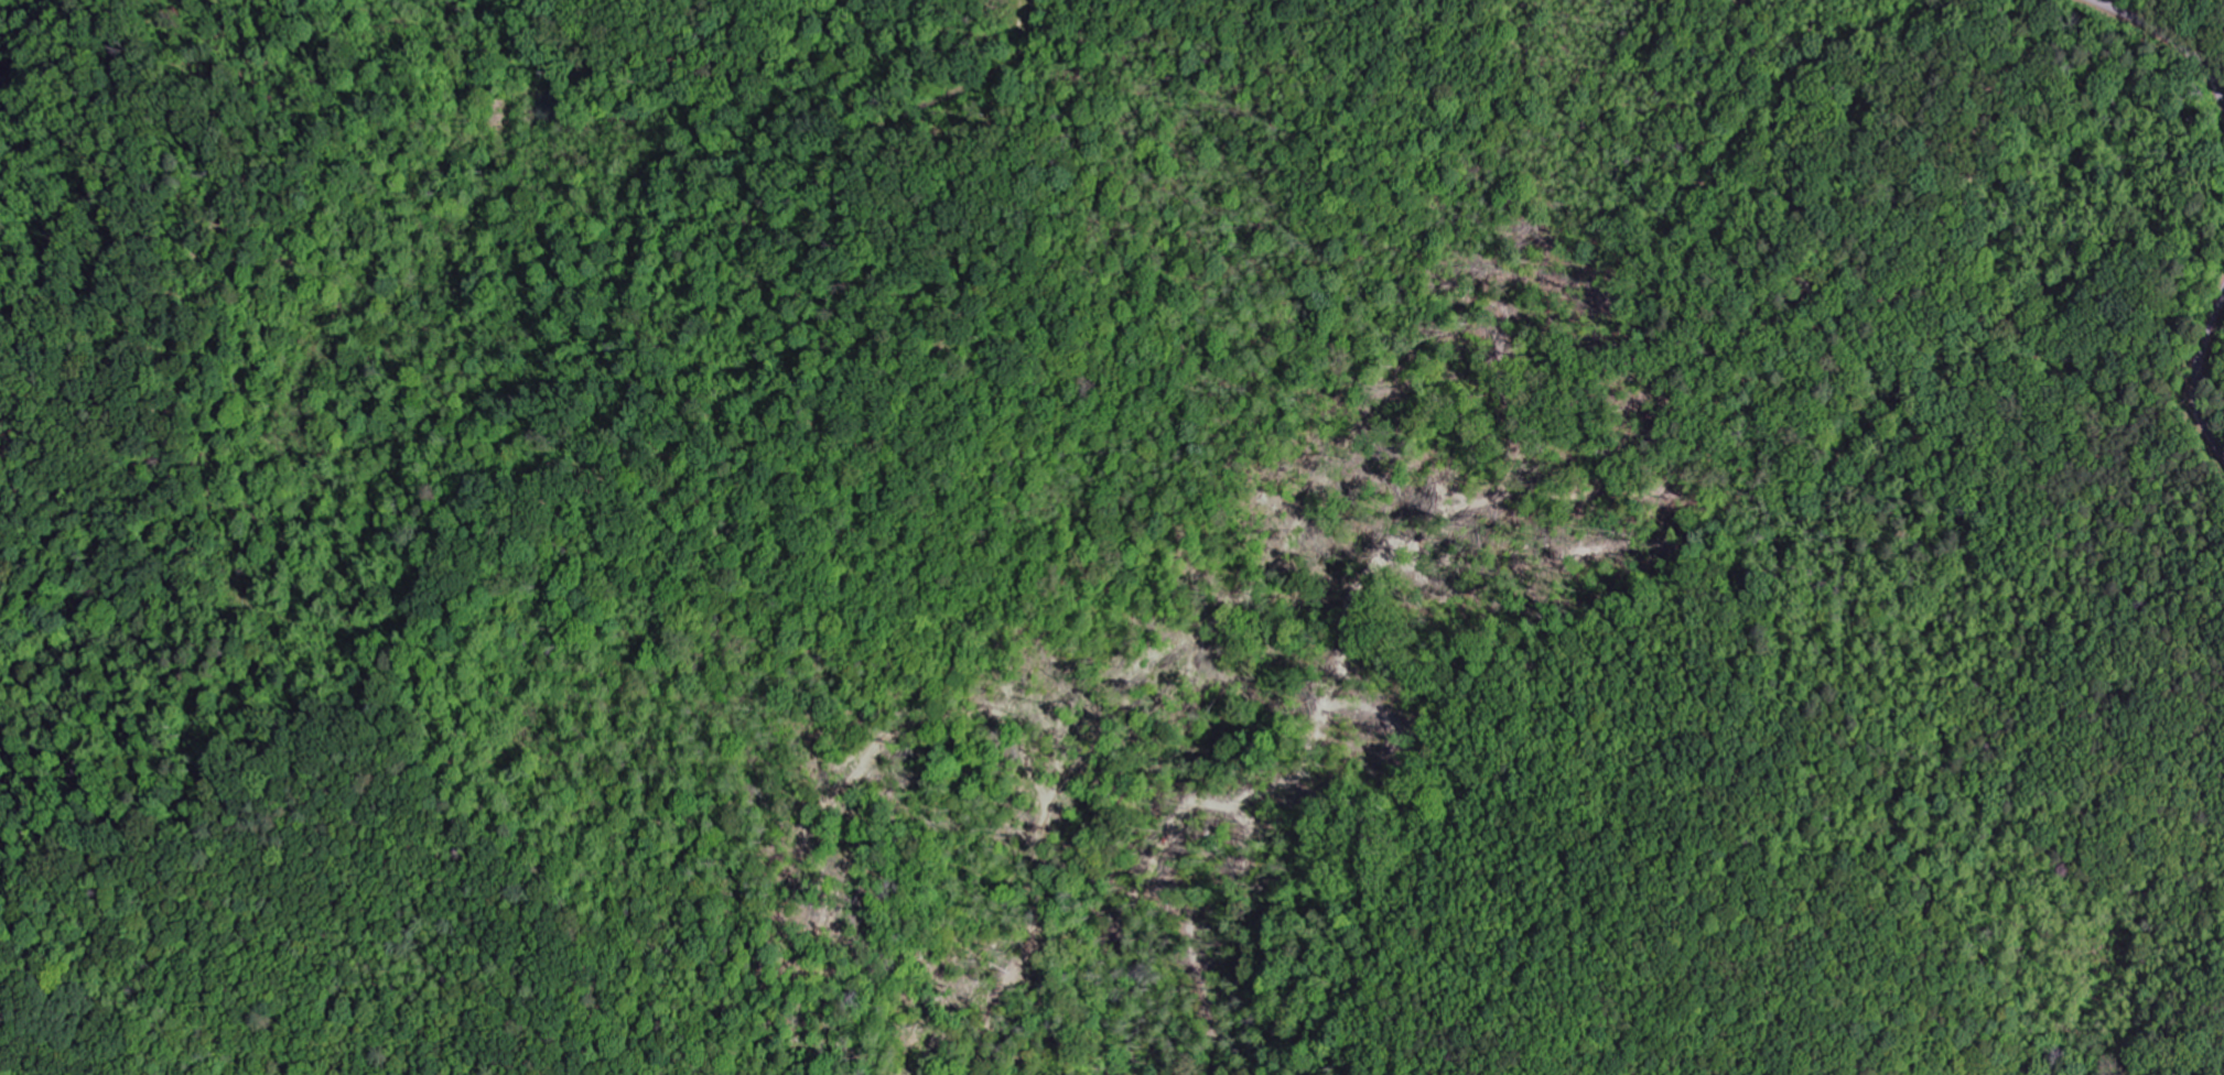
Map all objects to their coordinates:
road: (2168, 37)
road: (2200, 378)

